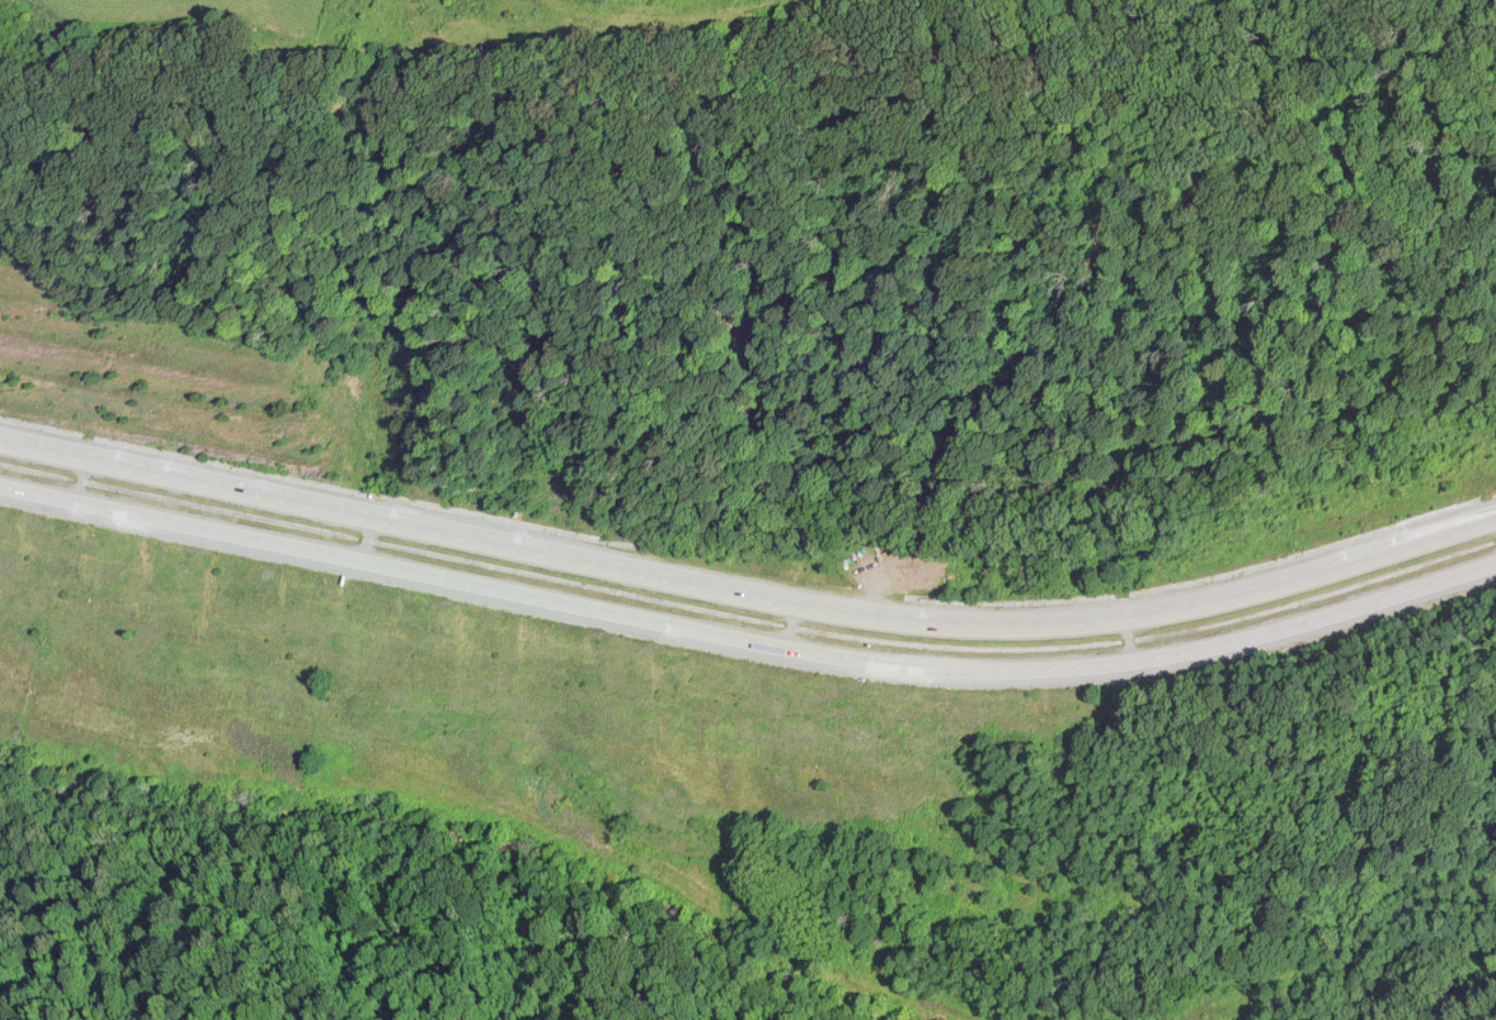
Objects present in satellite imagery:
road: (747, 599)
road: (747, 640)

